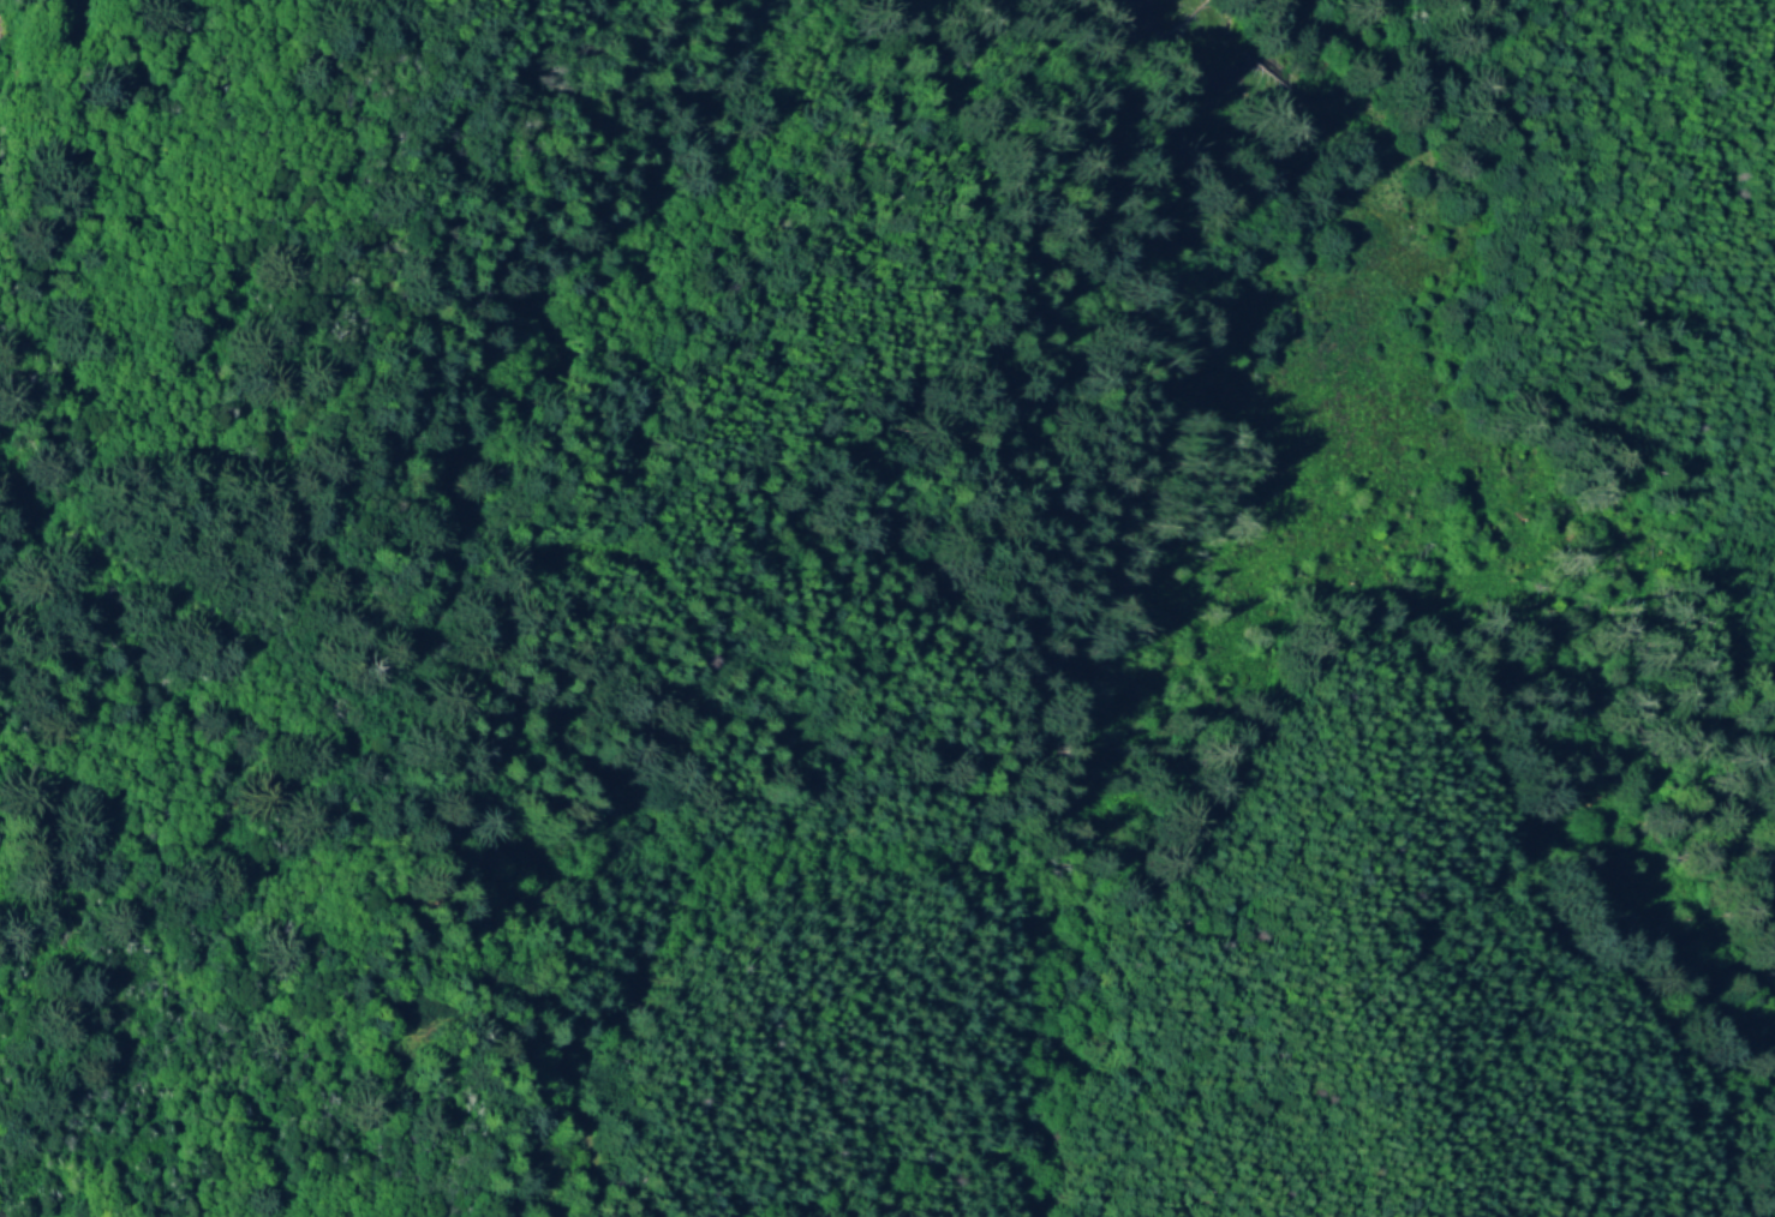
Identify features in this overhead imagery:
road: (43, 1077)

